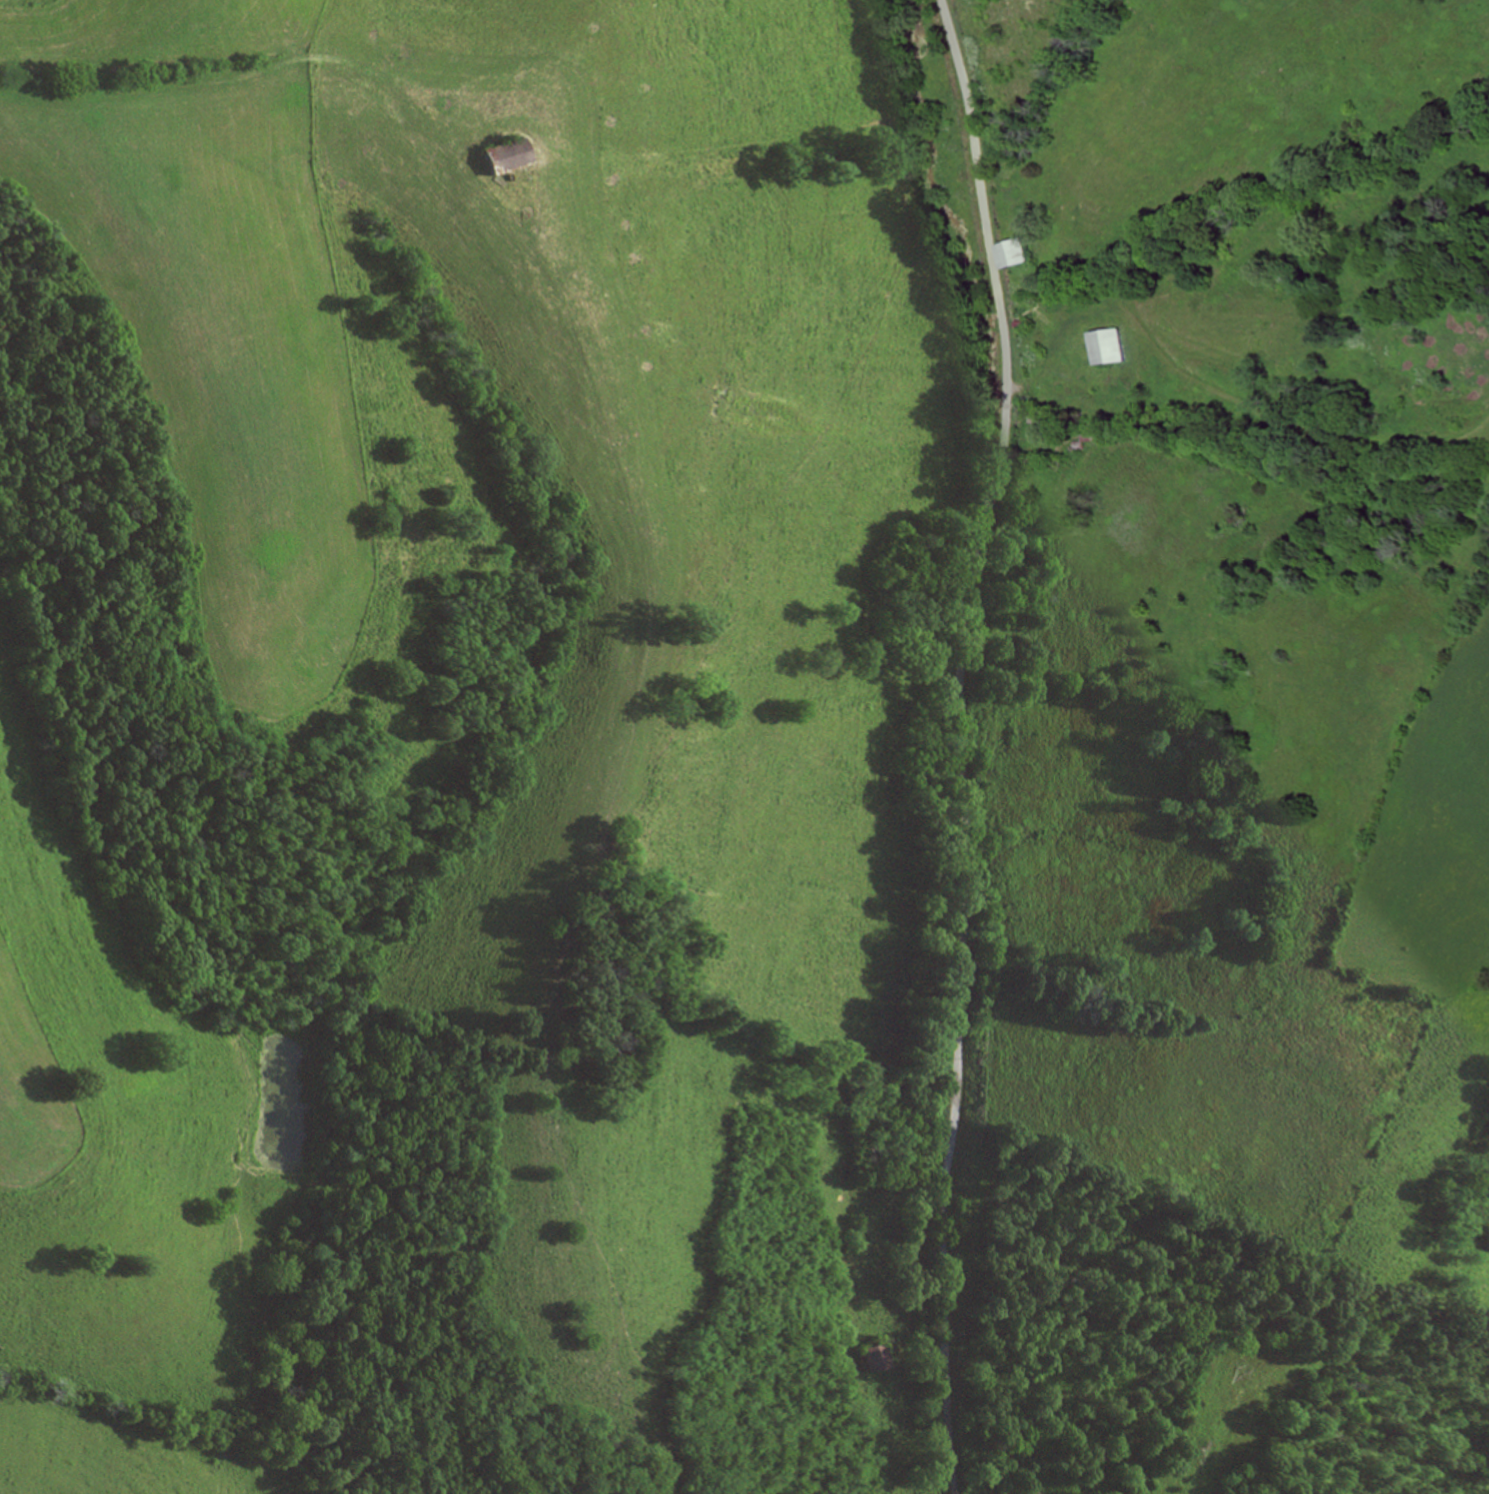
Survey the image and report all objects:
building: (512, 156)
building: (1016, 254)
building: (1114, 347)
road: (960, 742)
building: (878, 1357)

